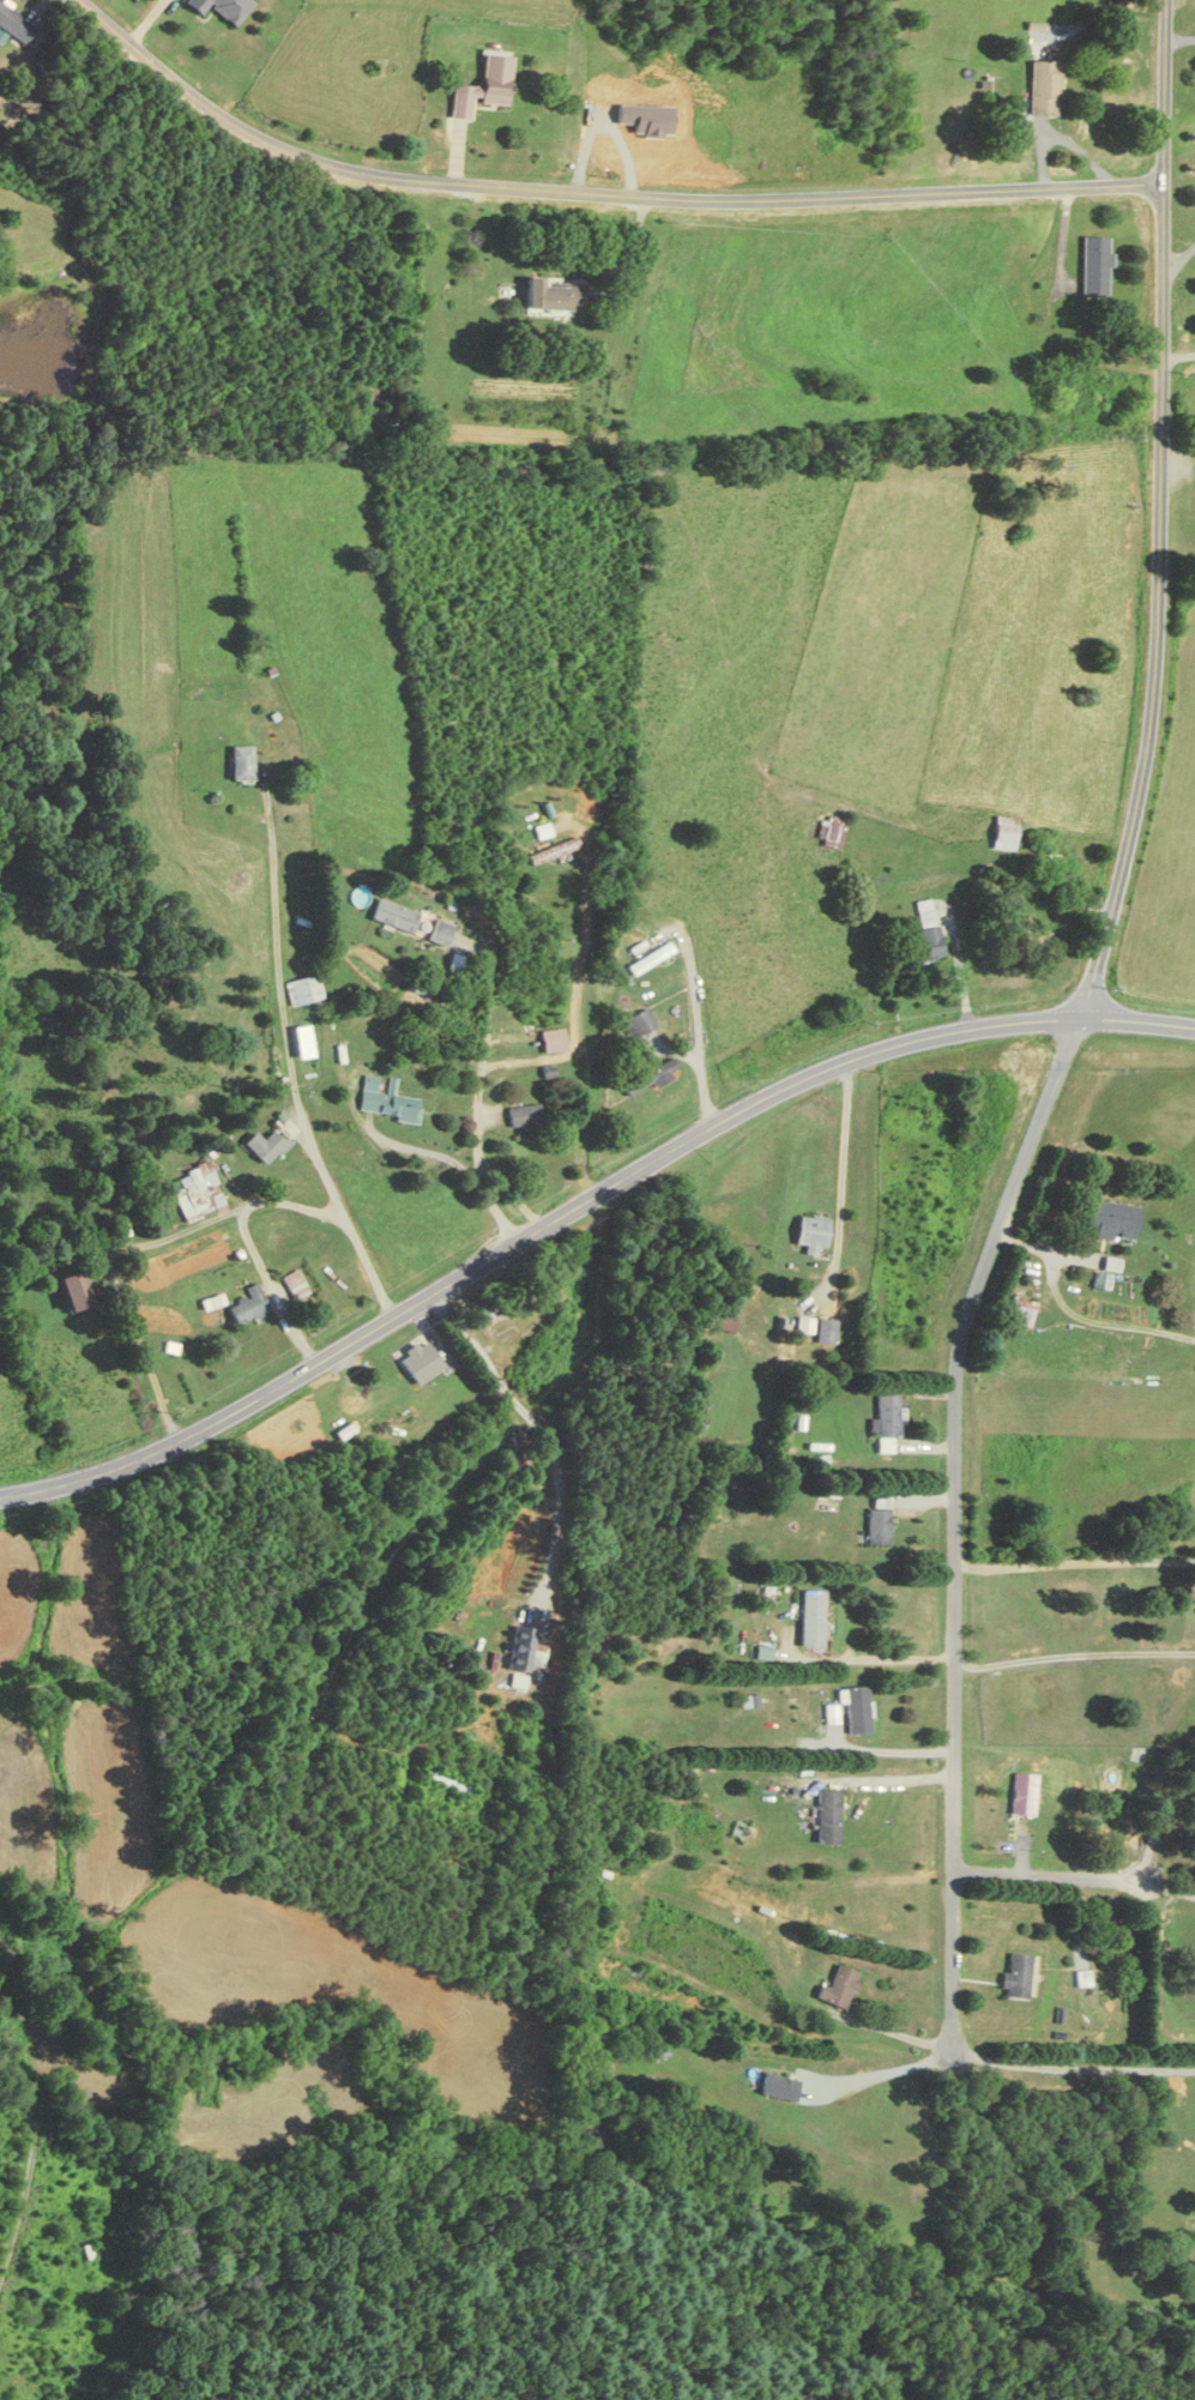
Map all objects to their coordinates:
building: (222, 8)
building: (14, 26)
road: (1179, 38)
building: (484, 88)
building: (1045, 88)
road: (593, 192)
road: (632, 252)
road: (1178, 259)
building: (1094, 265)
building: (555, 293)
building: (372, 397)
road: (1159, 513)
building: (241, 761)
building: (542, 831)
building: (832, 831)
building: (1006, 831)
building: (553, 850)
building: (394, 915)
building: (440, 931)
building: (925, 934)
building: (650, 958)
building: (416, 987)
building: (303, 990)
building: (453, 1002)
building: (538, 1008)
road: (575, 1024)
building: (636, 1024)
building: (553, 1041)
road: (288, 1054)
building: (648, 1078)
building: (386, 1100)
building: (524, 1116)
road: (496, 1118)
building: (265, 1146)
road: (843, 1164)
building: (197, 1190)
road: (580, 1202)
building: (1112, 1218)
building: (93, 1231)
building: (813, 1234)
building: (294, 1285)
building: (78, 1291)
building: (248, 1304)
building: (1021, 1311)
road: (1072, 1315)
building: (421, 1362)
building: (887, 1421)
building: (877, 1519)
road: (956, 1522)
road: (380, 1545)
road: (1075, 1561)
building: (811, 1618)
building: (526, 1651)
road: (1075, 1654)
road: (871, 1659)
building: (857, 1711)
road: (882, 1778)
building: (1022, 1795)
building: (827, 1816)
road: (1158, 1823)
building: (246, 1839)
road: (1046, 1876)
road: (1169, 1888)
building: (1016, 1976)
building: (839, 1988)
road: (1072, 2066)
road: (886, 2070)
building: (778, 2086)

